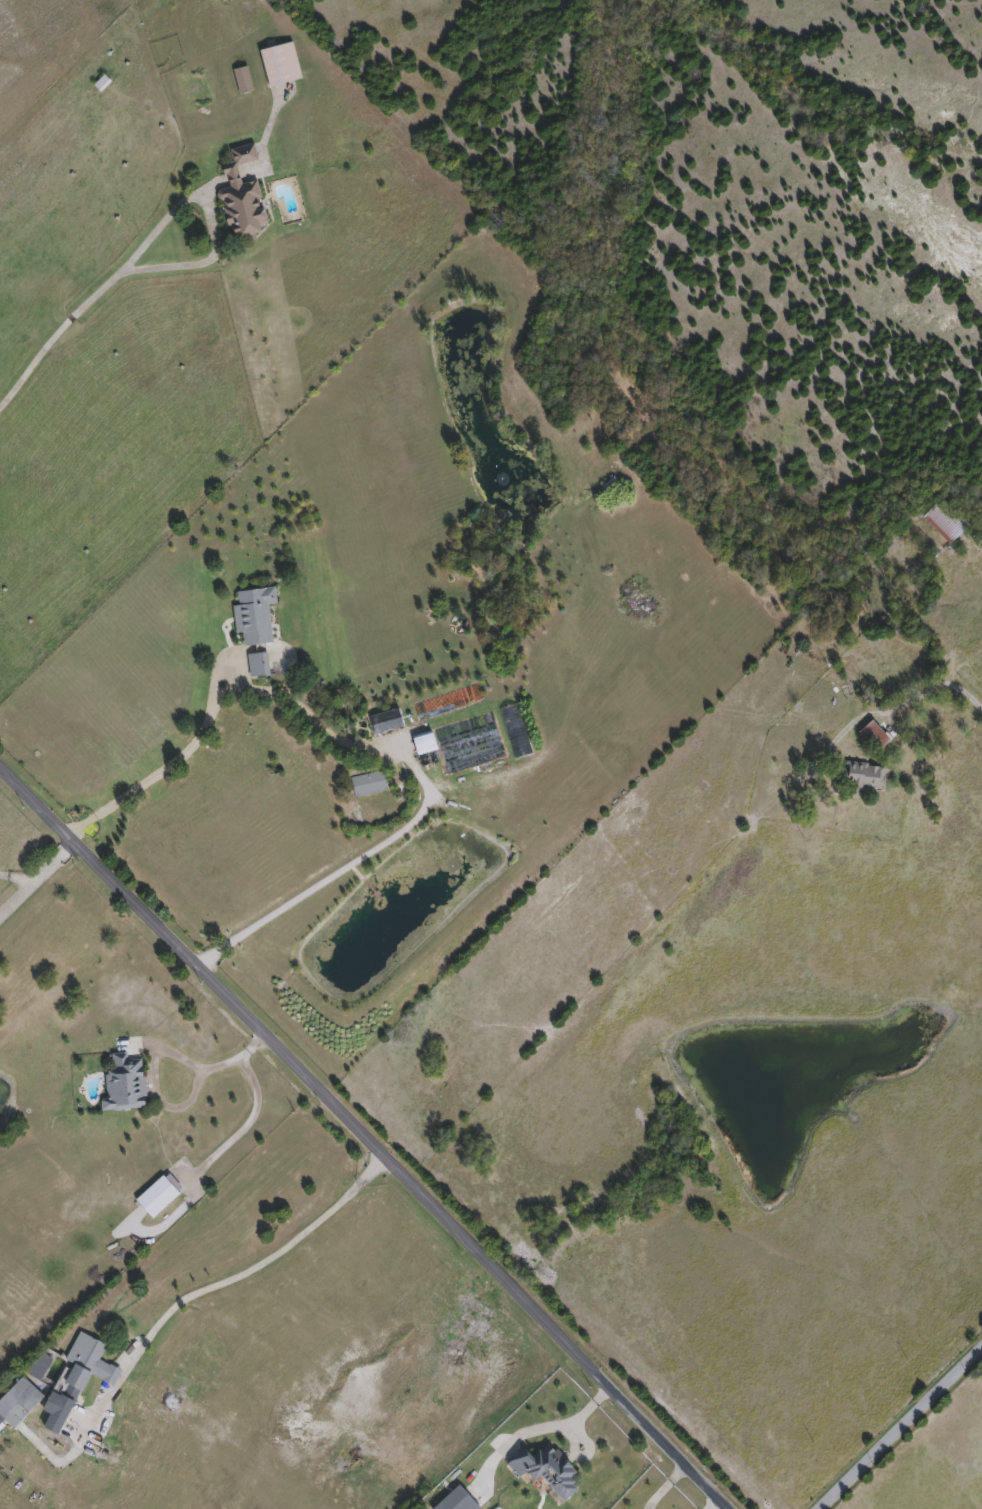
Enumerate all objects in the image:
building: (281, 65)
building: (244, 81)
building: (103, 84)
building: (243, 197)
road: (200, 207)
road: (57, 336)
building: (947, 521)
building: (255, 616)
building: (259, 665)
road: (940, 681)
road: (312, 717)
building: (388, 722)
building: (875, 737)
building: (425, 745)
building: (520, 746)
road: (175, 759)
building: (861, 779)
building: (369, 785)
road: (35, 873)
road: (338, 873)
road: (13, 881)
road: (158, 1056)
building: (126, 1084)
road: (366, 1135)
building: (158, 1197)
road: (237, 1271)
building: (78, 1379)
building: (19, 1404)
road: (567, 1426)
road: (900, 1427)
building: (547, 1471)
building: (459, 1500)

